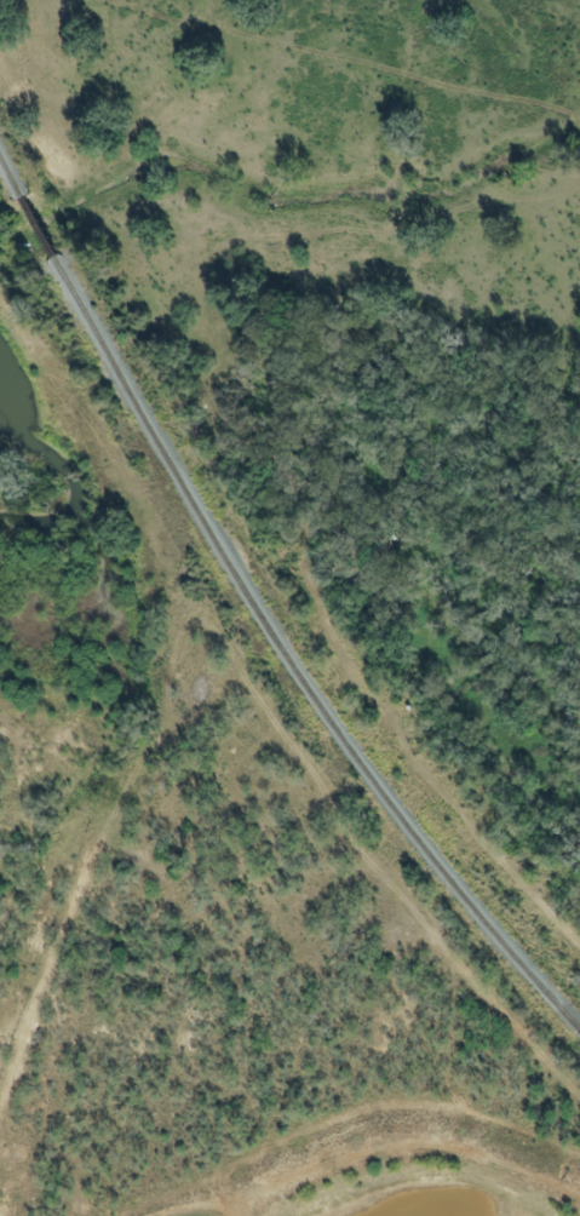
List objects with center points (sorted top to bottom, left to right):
railway: (260, 623)

